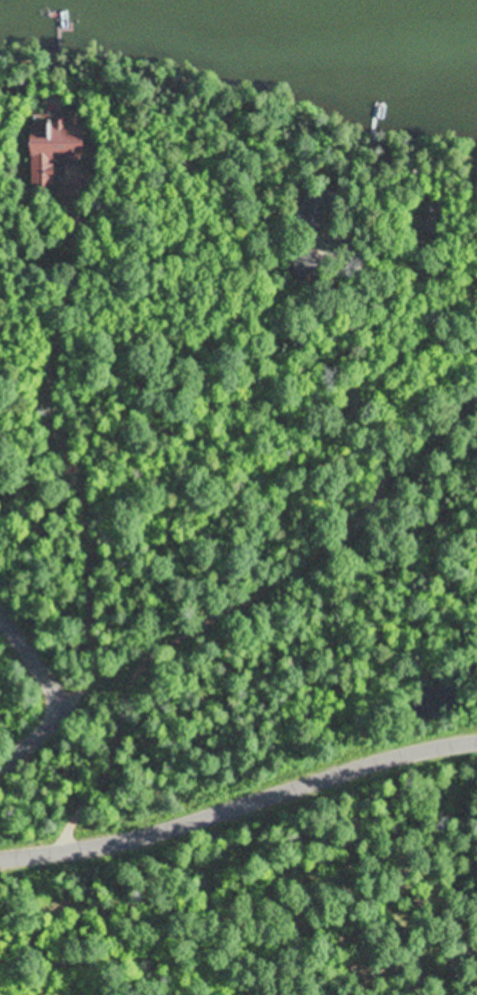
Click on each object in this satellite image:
building: (48, 149)
road: (251, 594)
road: (39, 647)
road: (267, 792)
road: (28, 817)

